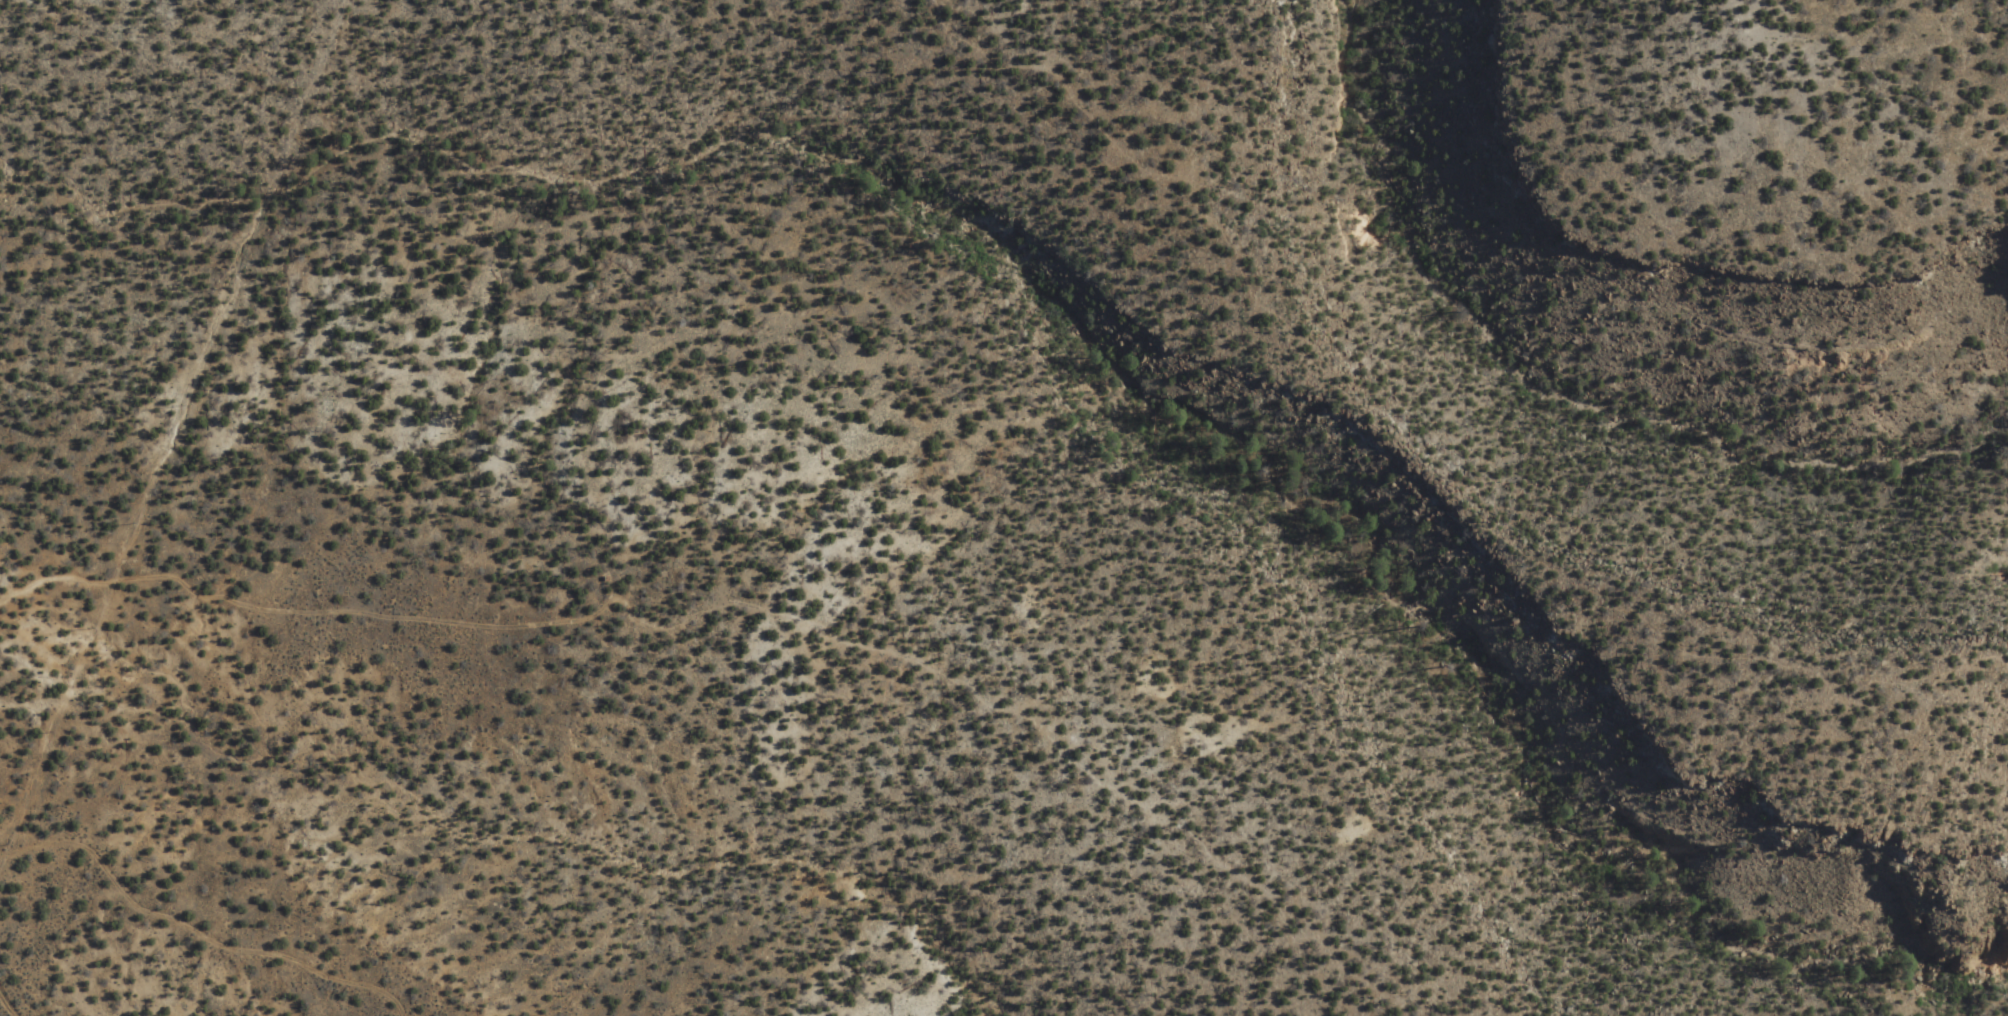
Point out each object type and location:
road: (1416, 451)
road: (776, 630)
road: (189, 905)

